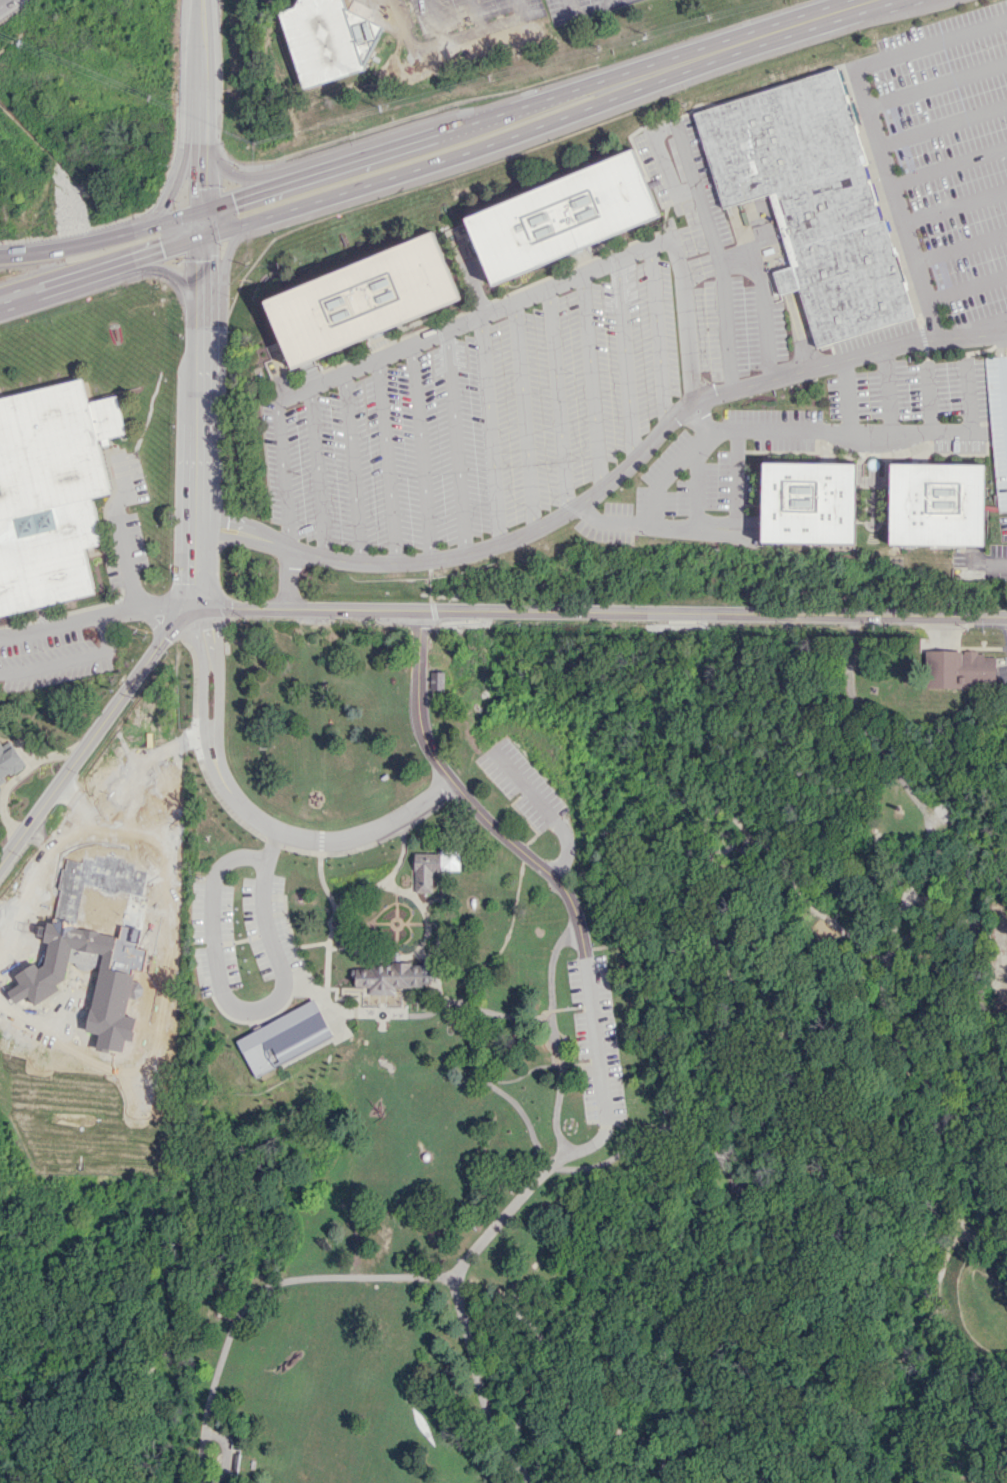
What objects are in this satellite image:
parking lot: (368, 0)
road: (611, 1)
parking lot: (576, 9)
road: (585, 9)
road: (477, 13)
road: (435, 19)
parking lot: (457, 19)
road: (804, 21)
road: (449, 36)
building: (329, 40)
road: (930, 44)
road: (201, 67)
road: (936, 84)
road: (468, 122)
road: (943, 126)
road: (651, 135)
road: (201, 140)
road: (472, 149)
parking lot: (953, 152)
road: (949, 166)
road: (235, 176)
road: (176, 182)
building: (813, 201)
road: (955, 206)
traffic signals: (201, 209)
building: (562, 216)
road: (201, 227)
road: (907, 236)
traffic signals: (201, 237)
road: (101, 238)
road: (961, 247)
road: (223, 265)
road: (100, 269)
road: (166, 272)
road: (760, 284)
road: (723, 286)
road: (967, 288)
building: (365, 299)
road: (470, 318)
road: (686, 320)
road: (973, 330)
road: (659, 336)
road: (999, 350)
road: (625, 360)
road: (591, 381)
road: (888, 392)
road: (847, 397)
road: (927, 397)
road: (559, 399)
parking lot: (479, 411)
road: (525, 416)
road: (701, 418)
road: (490, 430)
road: (817, 430)
road: (456, 443)
road: (422, 452)
road: (197, 458)
road: (386, 461)
road: (351, 468)
road: (314, 473)
road: (281, 475)
road: (737, 476)
road: (696, 485)
building: (50, 489)
building: (809, 502)
building: (937, 504)
road: (580, 505)
road: (662, 523)
road: (118, 531)
road: (989, 558)
road: (286, 577)
road: (429, 587)
road: (600, 611)
road: (96, 615)
traffic signals: (944, 615)
road: (150, 621)
road: (944, 630)
road: (72, 658)
building: (960, 669)
building: (437, 680)
road: (866, 728)
road: (94, 732)
building: (9, 762)
parking lot: (521, 787)
road: (467, 801)
road: (133, 805)
road: (546, 814)
road: (252, 815)
road: (248, 829)
building: (72, 834)
road: (397, 858)
road: (668, 869)
building: (426, 871)
road: (564, 877)
road: (411, 883)
road: (323, 885)
road: (369, 886)
road: (636, 892)
road: (70, 895)
road: (336, 913)
road: (175, 918)
road: (509, 927)
road: (275, 929)
parking lot: (238, 931)
road: (674, 943)
road: (418, 948)
road: (437, 964)
building: (125, 965)
building: (394, 975)
road: (324, 989)
road: (884, 1000)
road: (450, 1001)
road: (378, 1009)
road: (486, 1009)
road: (243, 1010)
fountain: (382, 1014)
road: (267, 1017)
building: (284, 1038)
road: (551, 1038)
parking lot: (595, 1040)
road: (545, 1042)
road: (595, 1042)
road: (520, 1076)
park: (534, 1077)
building: (138, 1082)
road: (565, 1165)
road: (728, 1168)
road: (361, 1276)
road: (199, 1325)
road: (167, 1326)
road: (479, 1383)
road: (575, 1416)
road: (860, 1451)
road: (221, 1457)

